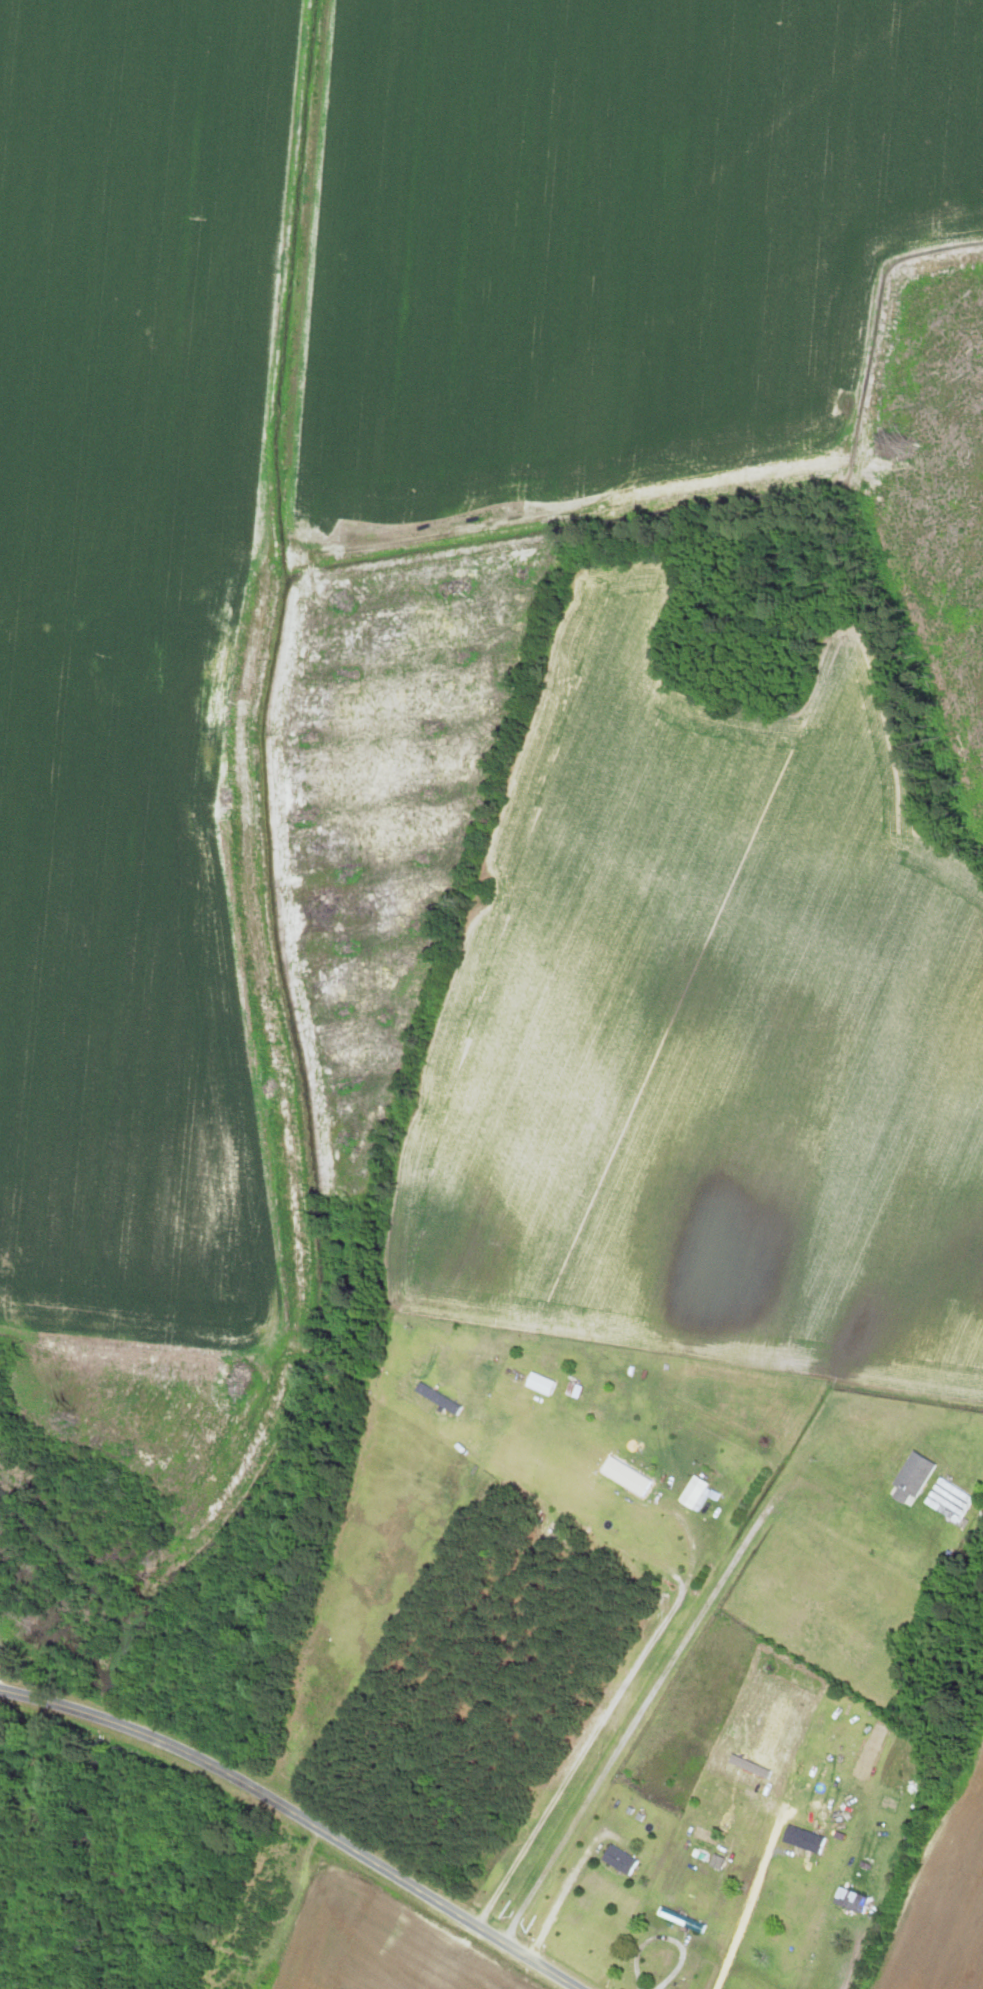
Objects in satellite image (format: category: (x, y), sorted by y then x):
building: (538, 1385)
building: (623, 1478)
building: (909, 1479)
building: (946, 1501)
building: (840, 1533)
road: (596, 1730)
road: (143, 1736)
building: (801, 1841)
building: (617, 1861)
road: (427, 1897)
building: (848, 1901)
road: (745, 1916)
building: (679, 1921)
building: (227, 1954)

